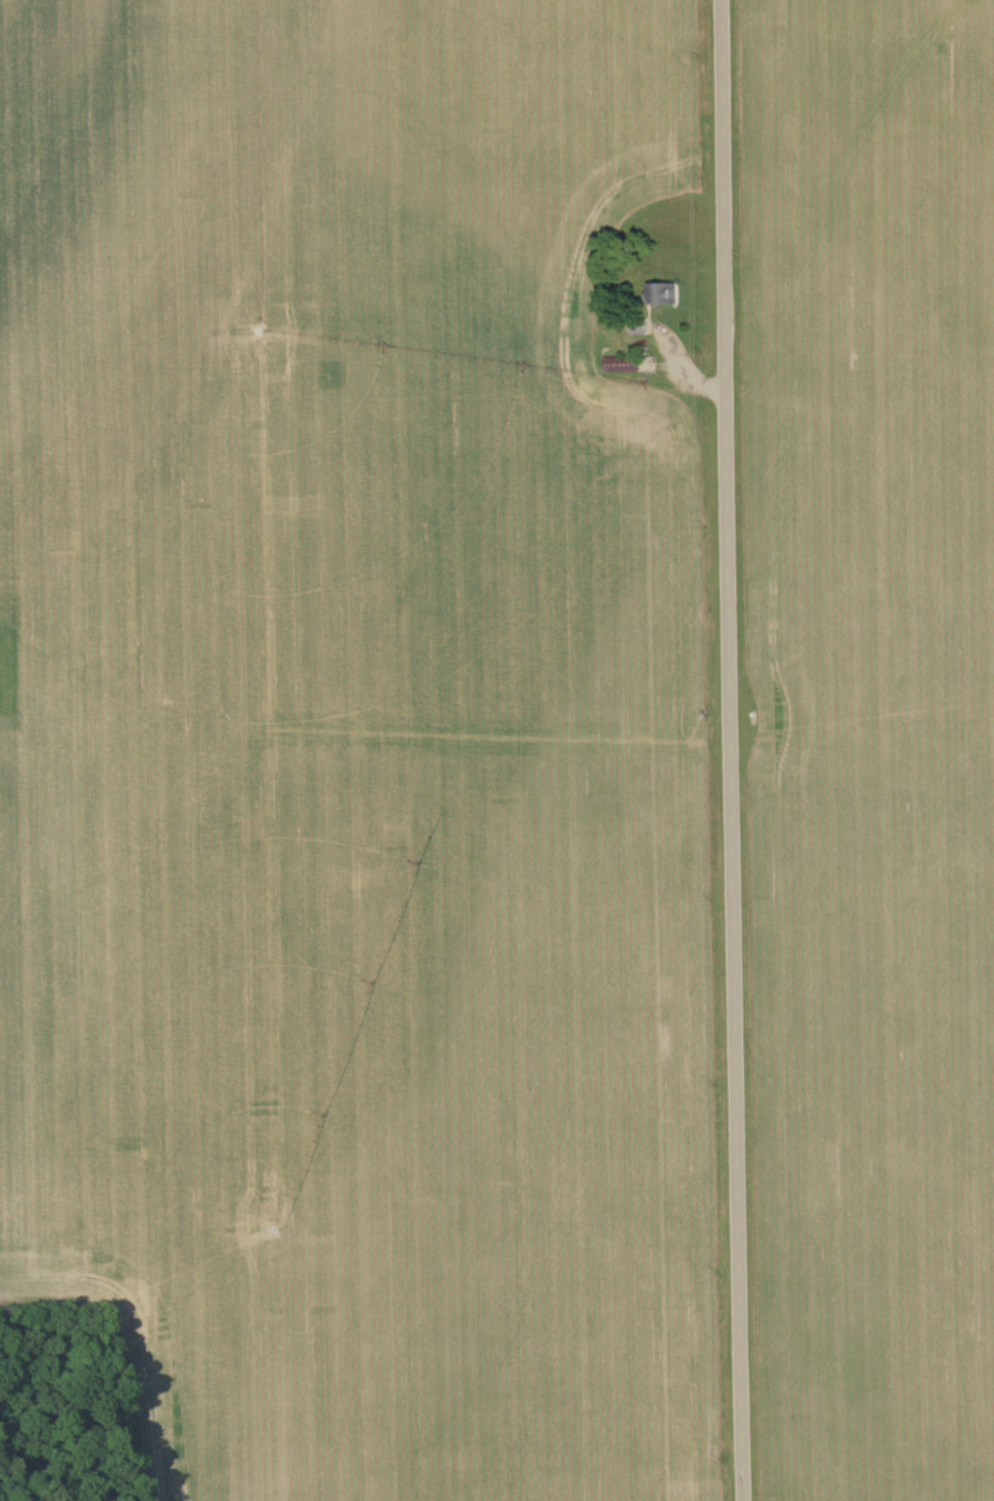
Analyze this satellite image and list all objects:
building: (662, 294)
building: (621, 366)
building: (642, 411)
building: (685, 431)
building: (676, 454)
crop: (873, 737)
road: (730, 750)

